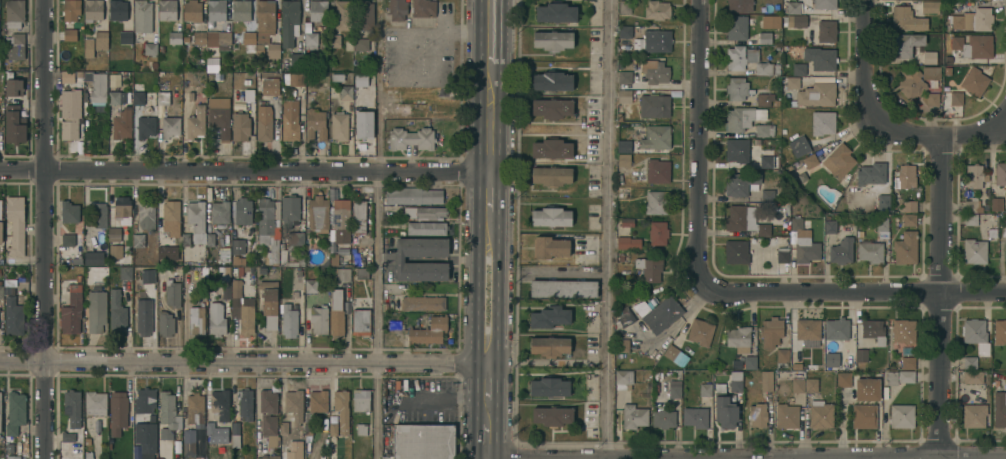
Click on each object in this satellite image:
building: (823, 4)
building: (739, 5)
building: (624, 6)
building: (929, 6)
building: (792, 7)
building: (423, 8)
building: (71, 9)
building: (117, 9)
building: (397, 9)
building: (92, 10)
building: (166, 10)
building: (191, 10)
building: (216, 10)
building: (240, 10)
building: (318, 10)
building: (656, 10)
building: (555, 12)
building: (14, 13)
building: (363, 14)
building: (342, 15)
building: (907, 18)
building: (971, 19)
building: (142, 20)
building: (794, 20)
building: (288, 21)
building: (769, 22)
building: (736, 27)
building: (265, 28)
building: (826, 30)
road: (487, 31)
building: (624, 31)
building: (69, 34)
building: (125, 37)
building: (174, 37)
building: (248, 37)
building: (764, 38)
building: (212, 39)
building: (100, 40)
building: (310, 40)
building: (551, 40)
building: (656, 40)
building: (332, 41)
building: (361, 44)
building: (904, 44)
building: (972, 45)
building: (14, 46)
building: (87, 48)
building: (150, 48)
building: (161, 49)
building: (752, 54)
building: (928, 57)
building: (735, 58)
building: (820, 58)
building: (296, 59)
building: (151, 63)
building: (210, 65)
building: (0, 66)
building: (766, 68)
building: (798, 69)
building: (654, 71)
building: (930, 72)
building: (85, 75)
building: (67, 76)
building: (218, 77)
building: (337, 77)
building: (624, 77)
building: (295, 79)
building: (551, 80)
building: (910, 81)
building: (973, 81)
building: (791, 82)
building: (269, 87)
building: (12, 88)
building: (98, 88)
building: (736, 88)
building: (345, 91)
building: (138, 93)
building: (815, 94)
building: (190, 95)
building: (248, 95)
road: (865, 95)
building: (623, 96)
building: (113, 97)
building: (162, 97)
building: (955, 98)
building: (762, 99)
building: (932, 99)
building: (654, 105)
building: (551, 108)
building: (70, 113)
building: (219, 115)
road: (487, 116)
building: (742, 117)
building: (289, 120)
building: (195, 122)
building: (822, 122)
building: (263, 123)
building: (121, 124)
building: (315, 124)
building: (362, 124)
building: (145, 126)
building: (170, 126)
building: (239, 126)
building: (340, 127)
building: (13, 128)
building: (764, 130)
building: (655, 137)
building: (410, 138)
road: (975, 138)
road: (698, 142)
building: (623, 146)
building: (798, 146)
building: (551, 148)
building: (736, 149)
building: (623, 159)
building: (809, 160)
building: (839, 160)
building: (766, 161)
road: (243, 170)
building: (657, 171)
building: (871, 173)
building: (1000, 174)
building: (550, 175)
building: (904, 176)
building: (973, 176)
building: (741, 182)
building: (767, 194)
building: (412, 195)
building: (778, 197)
building: (883, 200)
building: (656, 202)
building: (996, 203)
building: (909, 205)
building: (972, 205)
building: (289, 209)
building: (122, 210)
building: (242, 211)
building: (69, 212)
building: (219, 212)
building: (422, 212)
building: (317, 214)
building: (100, 215)
building: (146, 215)
building: (170, 215)
building: (195, 215)
building: (340, 216)
building: (358, 216)
building: (550, 216)
building: (735, 217)
road: (487, 219)
building: (908, 219)
building: (970, 219)
building: (0, 221)
building: (626, 222)
building: (795, 223)
building: (881, 223)
building: (15, 224)
building: (829, 226)
building: (426, 227)
building: (267, 228)
road: (42, 229)
road: (374, 229)
road: (609, 229)
building: (763, 229)
building: (657, 232)
building: (991, 232)
building: (114, 234)
building: (68, 239)
building: (185, 239)
building: (210, 239)
building: (138, 240)
building: (627, 242)
building: (237, 246)
building: (291, 247)
building: (549, 247)
building: (905, 247)
building: (805, 249)
building: (840, 250)
building: (115, 251)
building: (735, 251)
building: (870, 251)
building: (974, 251)
building: (1005, 251)
building: (162, 252)
building: (223, 254)
building: (782, 255)
building: (91, 258)
building: (399, 259)
building: (77, 260)
building: (238, 260)
building: (648, 268)
building: (226, 270)
building: (262, 270)
building: (239, 271)
building: (125, 272)
building: (361, 272)
building: (342, 273)
building: (146, 276)
road: (566, 276)
building: (310, 285)
building: (236, 288)
building: (562, 288)
building: (0, 289)
building: (8, 289)
building: (226, 290)
building: (283, 292)
road: (855, 292)
building: (172, 293)
building: (299, 293)
road: (937, 297)
building: (269, 303)
building: (422, 303)
building: (71, 310)
building: (95, 311)
building: (116, 311)
building: (336, 313)
building: (658, 313)
road: (485, 315)
building: (143, 316)
building: (548, 316)
building: (13, 317)
building: (624, 317)
building: (244, 318)
building: (318, 318)
building: (196, 319)
building: (216, 319)
building: (289, 320)
building: (360, 321)
building: (165, 323)
building: (806, 329)
building: (836, 329)
building: (873, 330)
building: (903, 330)
building: (428, 331)
building: (699, 331)
building: (770, 331)
building: (1000, 331)
building: (975, 334)
building: (738, 336)
building: (549, 345)
building: (621, 345)
building: (670, 351)
building: (861, 355)
building: (781, 357)
building: (849, 357)
road: (242, 361)
building: (749, 362)
building: (969, 362)
building: (907, 363)
building: (738, 365)
building: (906, 376)
building: (891, 377)
building: (972, 377)
building: (623, 379)
building: (843, 379)
building: (766, 380)
road: (484, 383)
building: (996, 383)
building: (735, 384)
building: (810, 384)
building: (797, 385)
building: (549, 386)
building: (674, 388)
building: (704, 389)
building: (866, 389)
building: (145, 400)
building: (293, 400)
building: (318, 400)
building: (361, 400)
building: (268, 401)
road: (445, 402)
building: (95, 403)
building: (220, 403)
building: (245, 403)
building: (72, 407)
building: (723, 407)
building: (999, 408)
building: (194, 409)
building: (341, 409)
building: (15, 412)
building: (117, 412)
building: (757, 414)
building: (820, 414)
building: (166, 415)
road: (484, 415)
building: (551, 415)
building: (901, 415)
building: (973, 415)
building: (633, 416)
building: (786, 416)
building: (863, 416)
building: (694, 417)
building: (143, 418)
building: (663, 418)
building: (268, 425)
building: (210, 427)
building: (283, 427)
building: (308, 428)
building: (333, 429)
building: (361, 429)
building: (235, 434)
building: (67, 436)
building: (149, 438)
building: (422, 441)
building: (188, 443)
road: (484, 443)
building: (9, 448)
building: (88, 455)
building: (262, 456)
building: (13, 457)
building: (273, 457)
road: (646, 458)
road: (745, 458)

